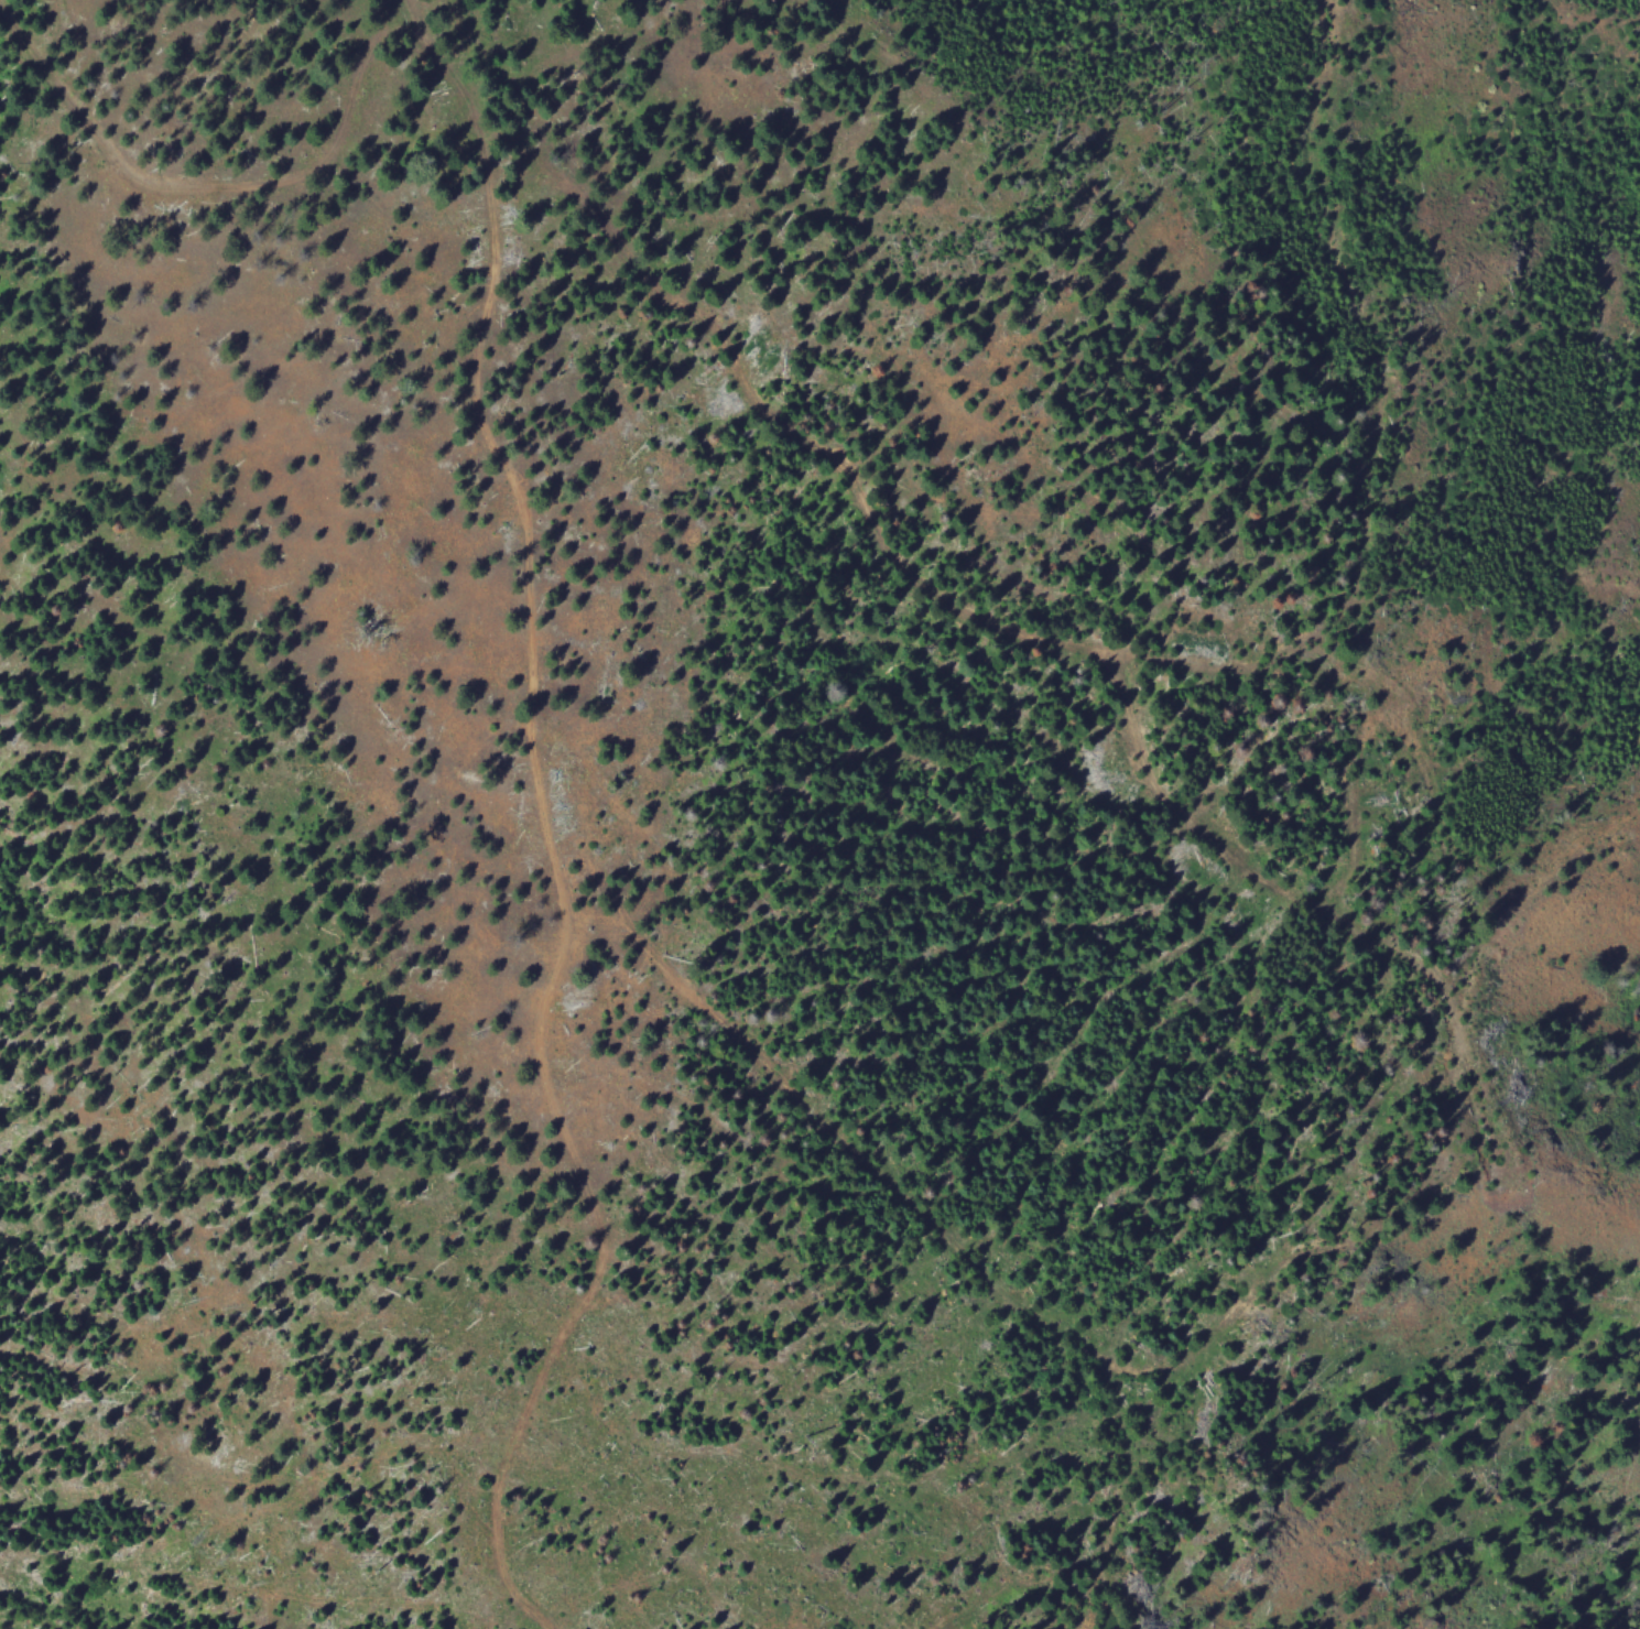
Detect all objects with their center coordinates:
road: (510, 813)

